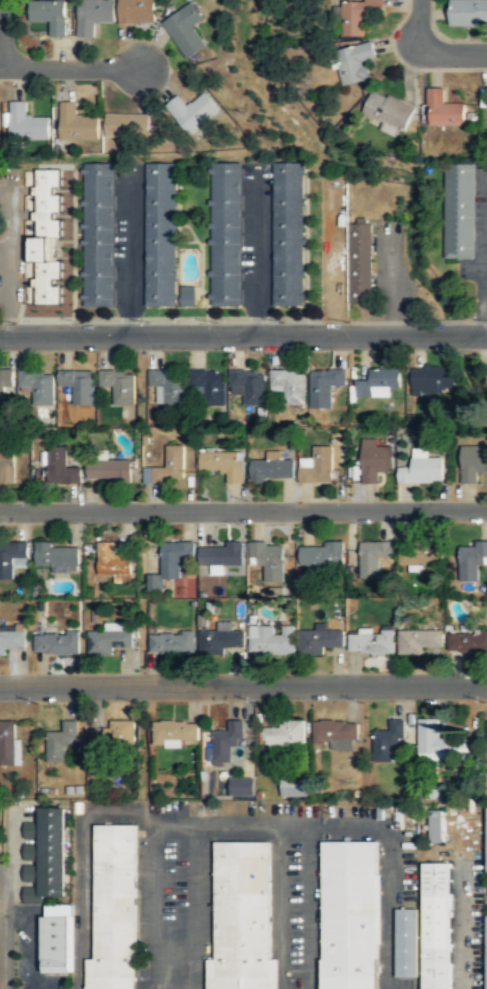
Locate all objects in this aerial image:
building: (136, 12)
building: (468, 12)
building: (356, 15)
building: (50, 16)
building: (94, 16)
road: (418, 21)
building: (186, 31)
road: (2, 32)
road: (451, 52)
building: (355, 62)
road: (70, 66)
building: (443, 110)
building: (193, 112)
building: (388, 113)
building: (26, 124)
building: (77, 124)
building: (127, 126)
building: (459, 210)
building: (161, 234)
building: (226, 234)
building: (288, 235)
building: (99, 236)
building: (46, 238)
road: (129, 253)
road: (8, 261)
building: (361, 264)
building: (189, 296)
road: (484, 319)
road: (243, 335)
building: (6, 379)
building: (433, 380)
building: (325, 385)
building: (380, 385)
building: (119, 386)
building: (209, 386)
building: (289, 386)
building: (39, 387)
building: (80, 387)
building: (169, 387)
building: (249, 387)
building: (374, 461)
building: (472, 463)
building: (224, 464)
building: (8, 465)
building: (61, 467)
building: (169, 467)
building: (317, 467)
building: (422, 469)
building: (110, 471)
building: (273, 471)
road: (243, 510)
building: (57, 555)
building: (419, 555)
building: (221, 556)
building: (12, 557)
building: (322, 558)
building: (373, 558)
building: (174, 561)
building: (268, 561)
building: (472, 561)
building: (113, 562)
building: (12, 639)
building: (110, 640)
building: (220, 640)
building: (272, 640)
building: (320, 640)
building: (419, 641)
building: (372, 642)
building: (57, 643)
building: (173, 643)
building: (467, 643)
road: (243, 685)
street lamp: (486, 700)
street lamp: (256, 701)
street lamp: (363, 701)
street lamp: (39, 702)
building: (486, 730)
building: (176, 731)
building: (337, 733)
building: (115, 735)
building: (284, 735)
building: (389, 741)
building: (439, 741)
building: (61, 742)
building: (9, 744)
building: (227, 744)
building: (241, 787)
building: (292, 787)
road: (115, 812)
road: (176, 822)
road: (230, 823)
building: (437, 826)
building: (485, 840)
road: (12, 841)
building: (46, 855)
road: (389, 872)
road: (311, 892)
building: (240, 907)
building: (115, 908)
building: (352, 914)
road: (18, 918)
road: (2, 928)
building: (427, 931)
building: (58, 938)
road: (34, 953)
building: (485, 954)
building: (261, 966)

